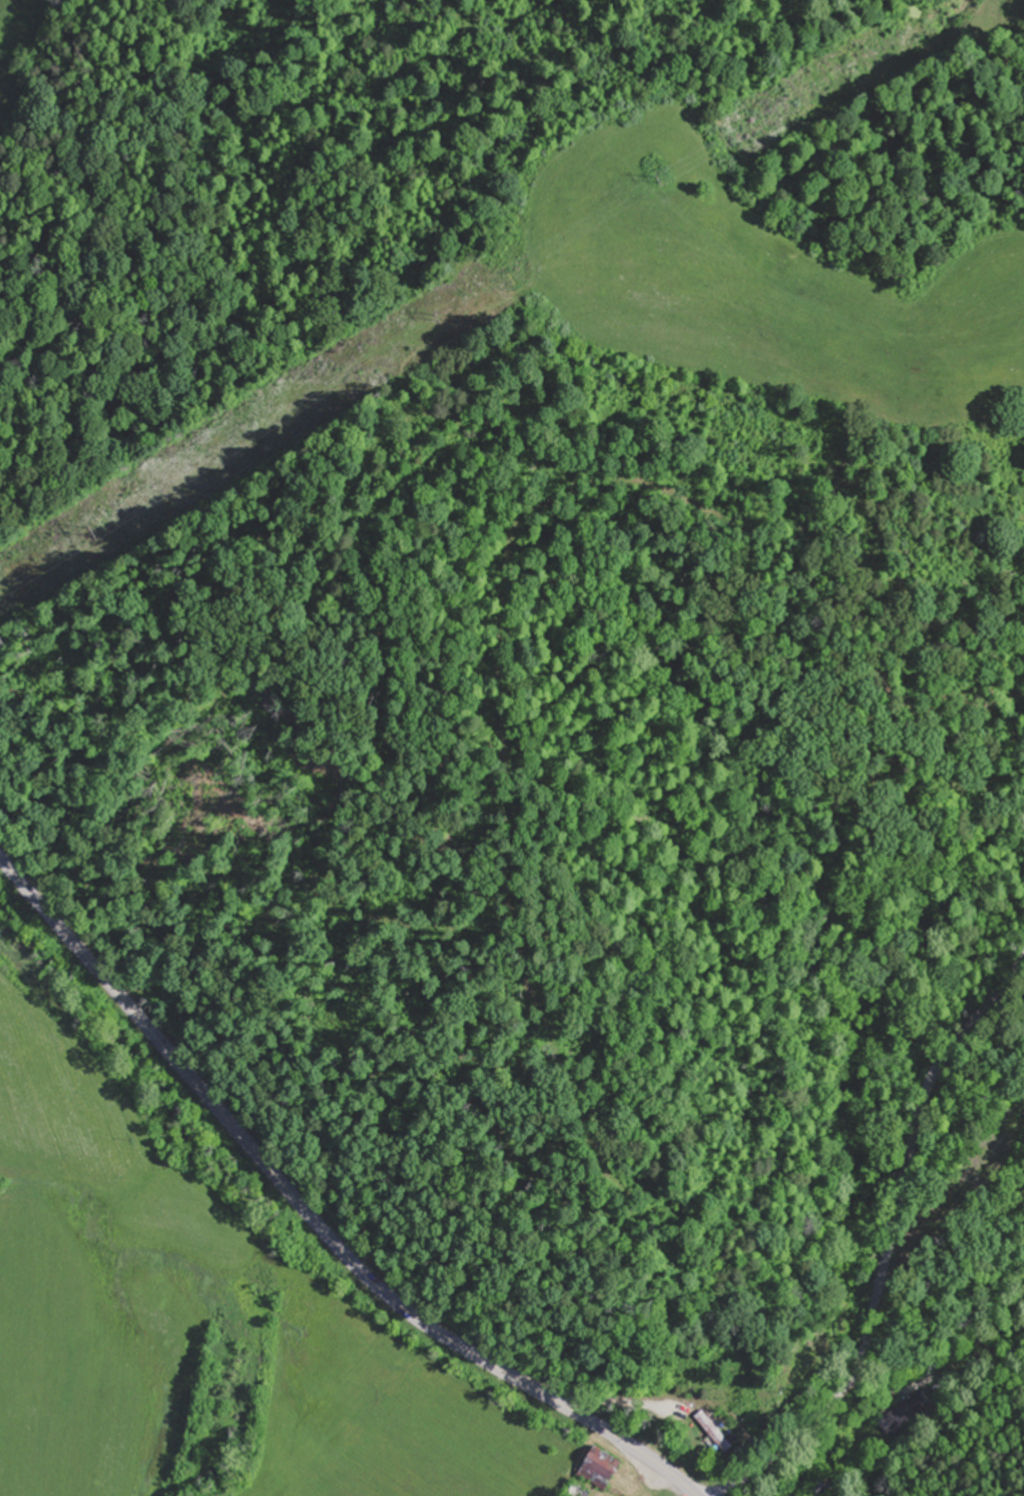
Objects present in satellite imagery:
road: (311, 1216)
road: (889, 1242)
building: (593, 1465)

